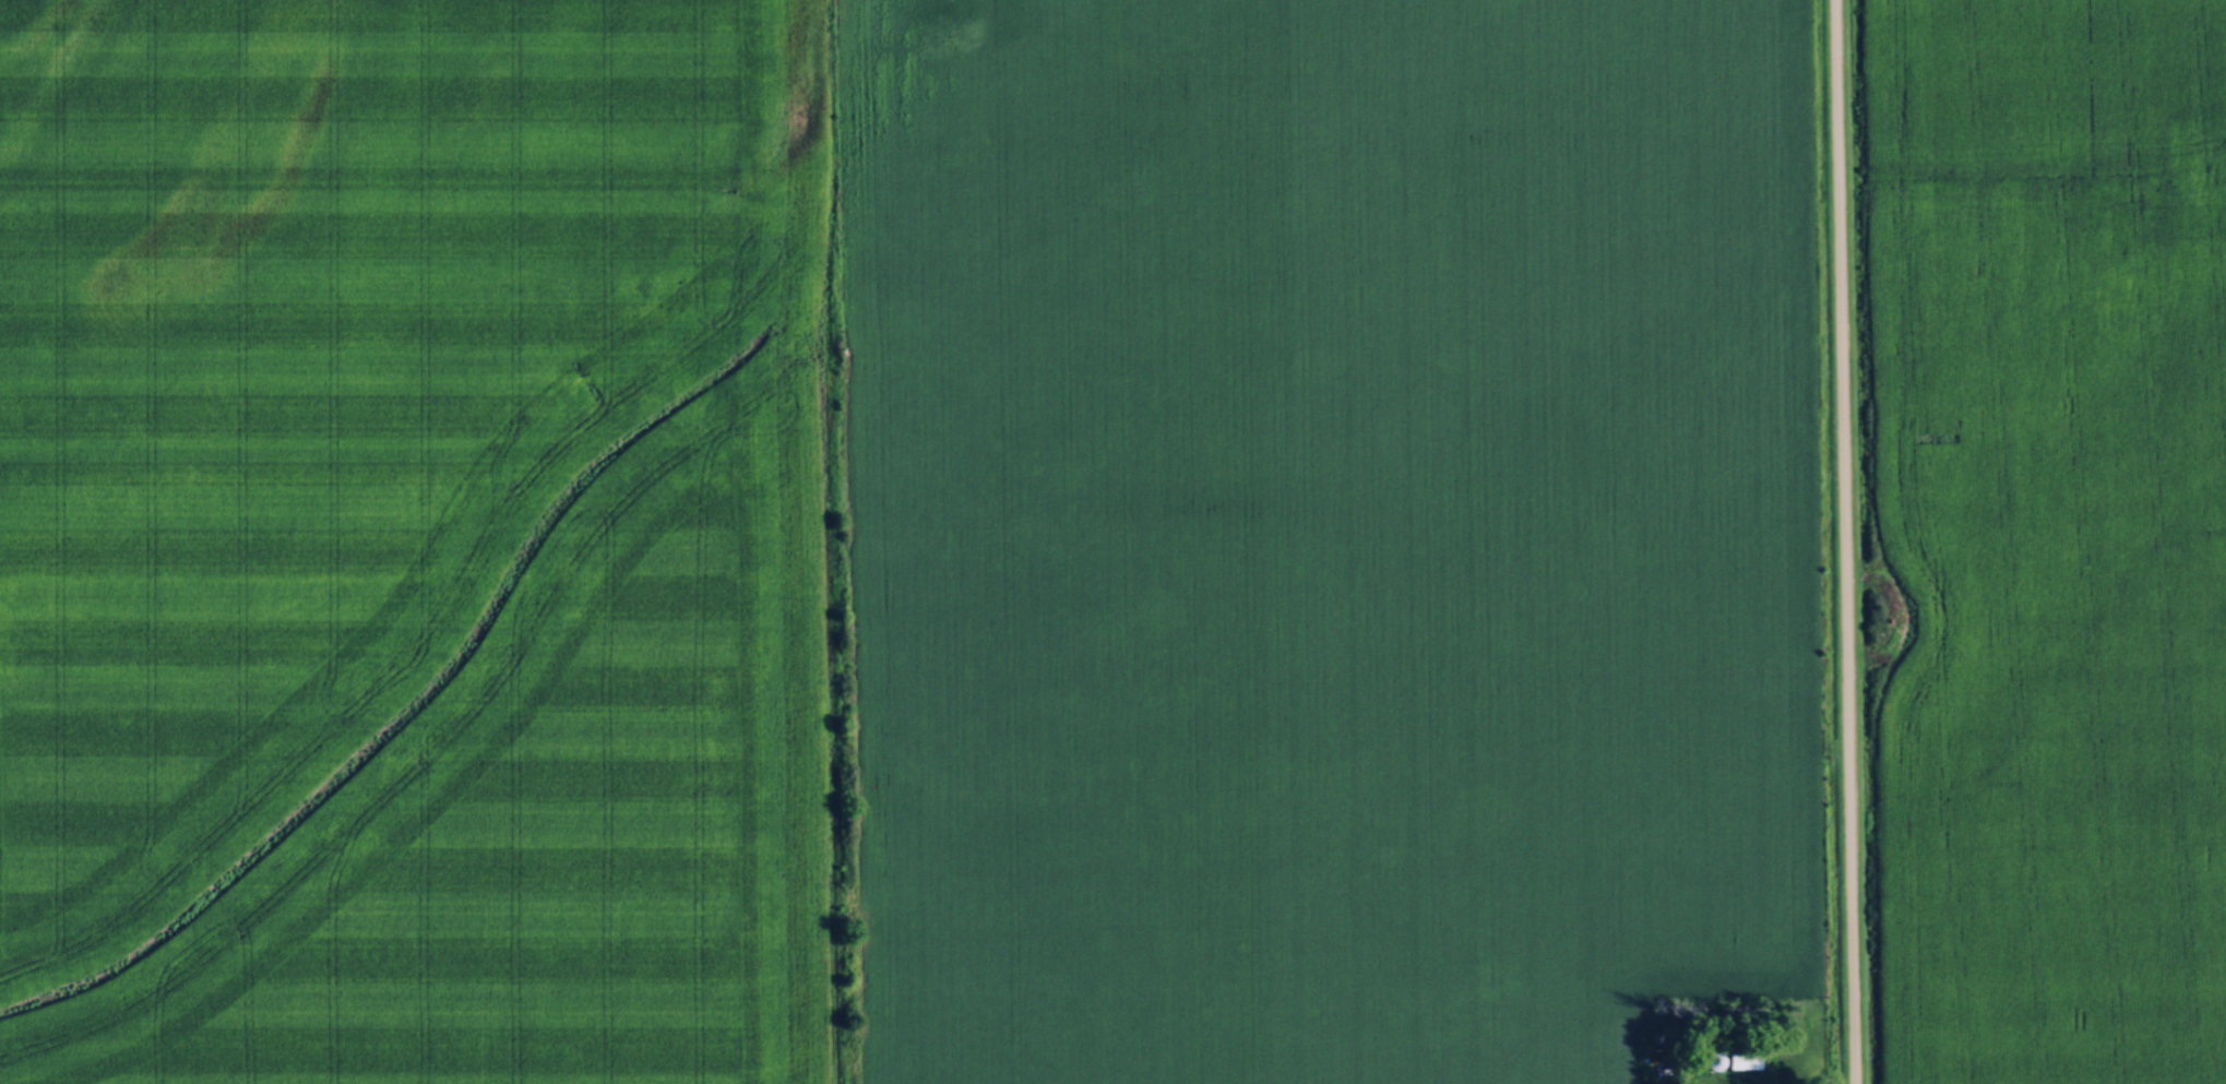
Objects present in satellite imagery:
road: (1843, 541)
building: (1745, 1059)
building: (1712, 1060)

